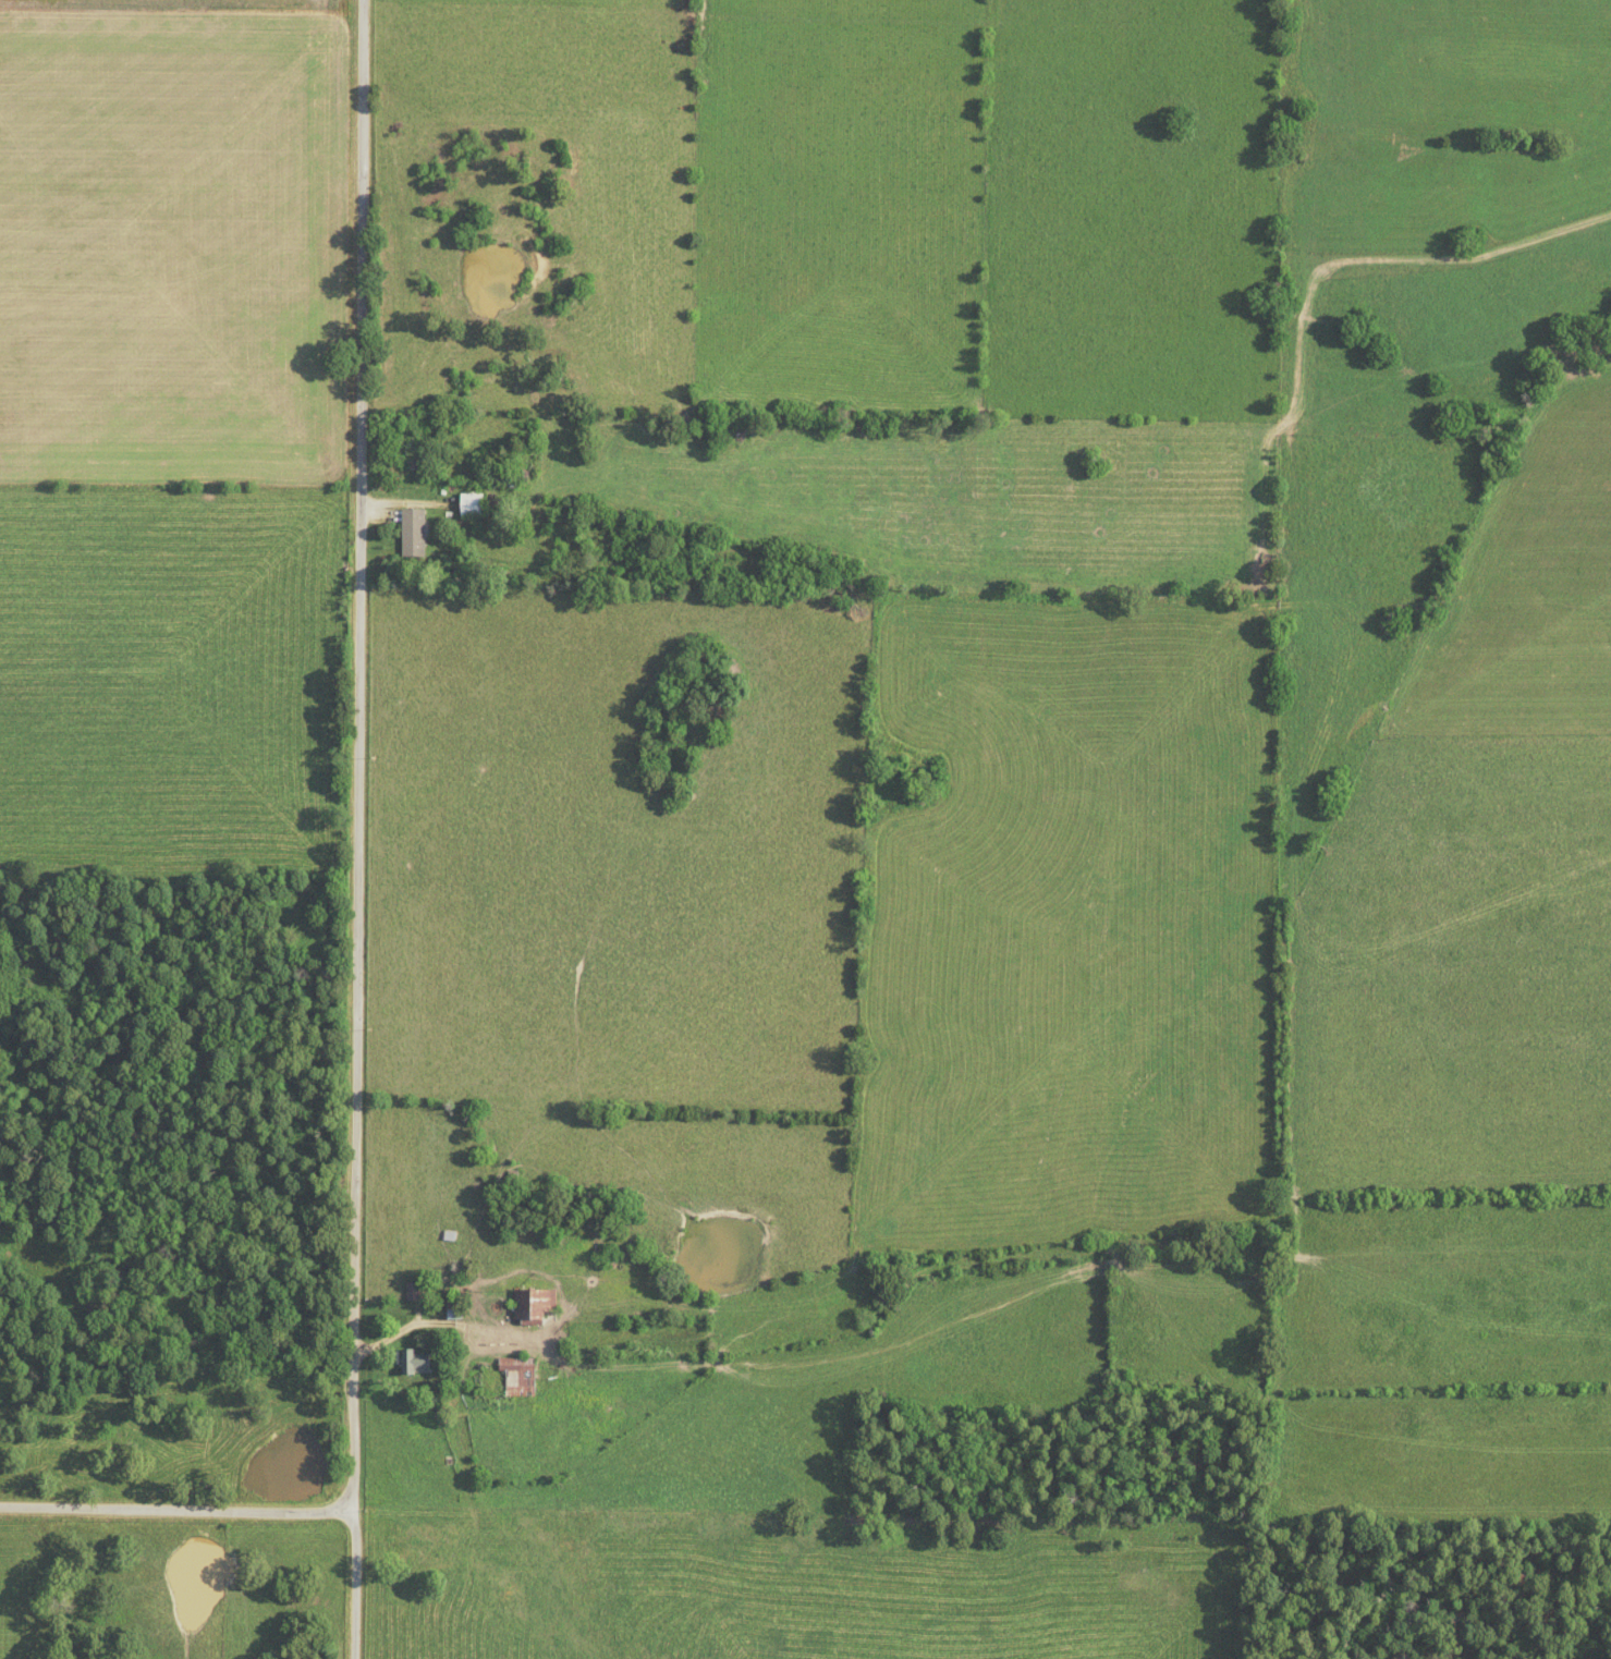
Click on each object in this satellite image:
building: (468, 504)
building: (412, 532)
road: (358, 829)
building: (414, 1291)
building: (532, 1305)
building: (413, 1361)
building: (516, 1376)
road: (178, 1511)
building: (419, 1550)

